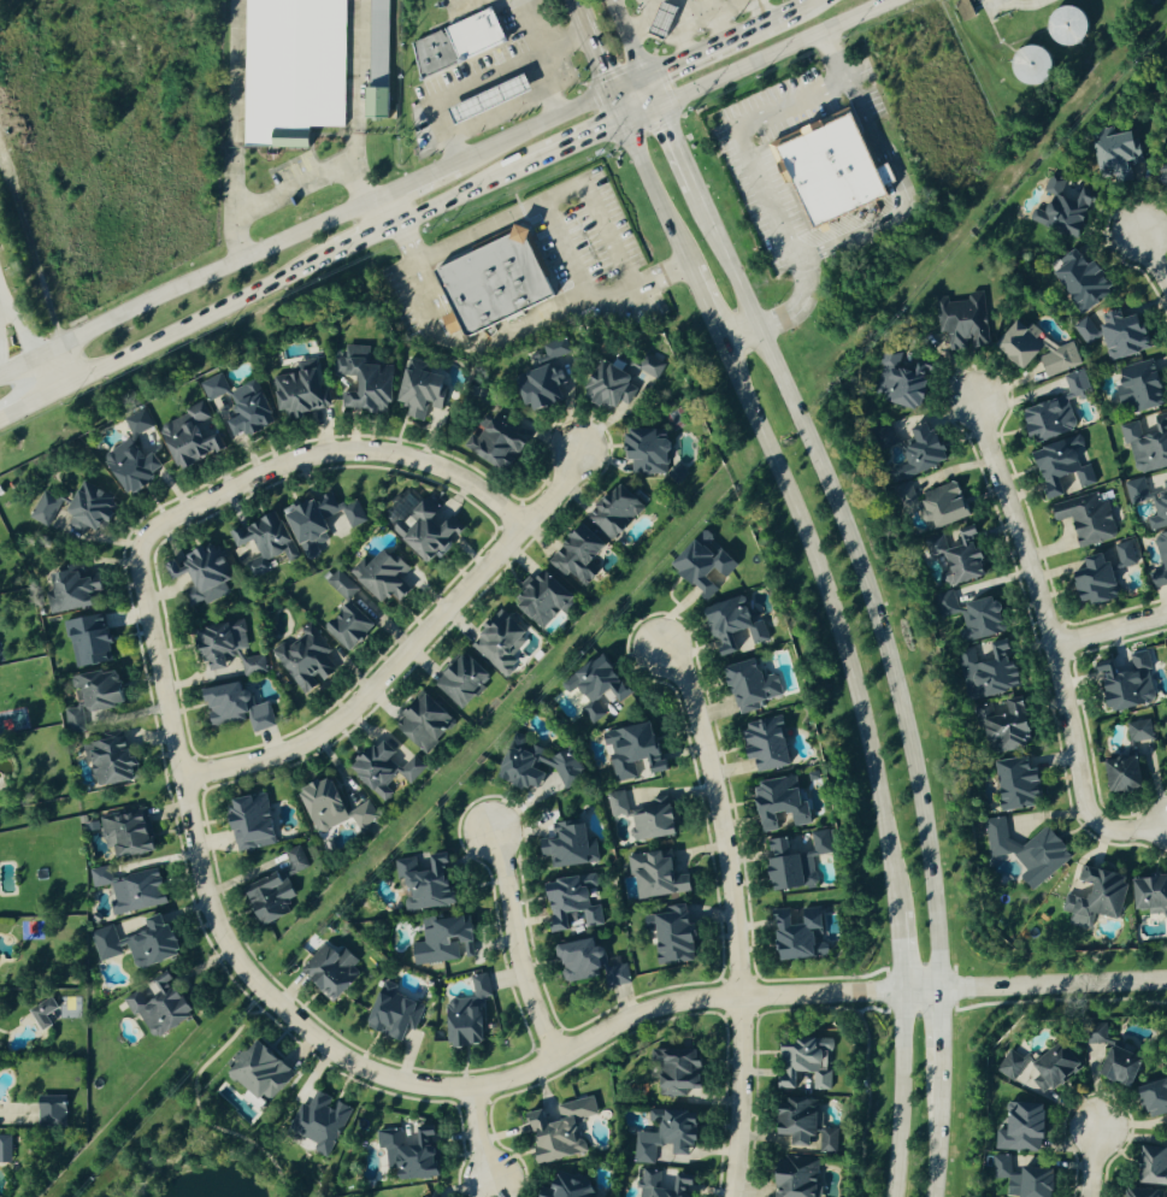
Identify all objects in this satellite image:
road: (454, 1)
road: (1020, 5)
road: (577, 7)
building: (968, 10)
road: (778, 17)
building: (662, 20)
road: (541, 25)
building: (1072, 26)
building: (464, 42)
road: (637, 52)
road: (595, 54)
road: (695, 55)
road: (754, 60)
building: (382, 61)
building: (293, 70)
traffic signals: (648, 77)
road: (488, 82)
road: (349, 85)
road: (549, 87)
traffic signals: (612, 93)
building: (489, 99)
traffic signals: (660, 105)
road: (230, 106)
road: (550, 120)
traffic signals: (624, 122)
road: (573, 143)
road: (678, 147)
building: (1110, 155)
road: (753, 164)
building: (831, 170)
building: (1161, 175)
road: (418, 181)
road: (649, 181)
road: (285, 185)
road: (554, 193)
building: (1059, 207)
road: (389, 208)
road: (1151, 261)
building: (1075, 281)
building: (494, 282)
road: (190, 287)
road: (260, 287)
road: (702, 306)
road: (16, 309)
building: (957, 324)
building: (1084, 331)
building: (1118, 334)
road: (738, 336)
building: (1014, 344)
building: (559, 348)
building: (1057, 360)
building: (648, 366)
road: (40, 376)
building: (896, 381)
building: (370, 382)
building: (1073, 384)
building: (608, 385)
building: (217, 387)
building: (1136, 387)
building: (536, 388)
building: (428, 390)
building: (306, 394)
building: (253, 408)
building: (1043, 419)
building: (141, 423)
building: (196, 437)
building: (490, 443)
building: (1145, 444)
building: (641, 452)
road: (324, 453)
building: (918, 453)
building: (137, 467)
building: (1059, 467)
building: (1134, 491)
building: (904, 500)
building: (939, 505)
building: (1159, 507)
building: (48, 508)
building: (99, 509)
building: (611, 511)
building: (1083, 518)
building: (326, 520)
building: (419, 525)
building: (271, 538)
building: (574, 554)
building: (954, 555)
building: (1122, 555)
building: (1159, 561)
building: (701, 566)
building: (208, 574)
building: (379, 576)
road: (862, 578)
building: (1090, 582)
building: (341, 586)
building: (79, 592)
building: (537, 600)
building: (943, 606)
building: (978, 618)
road: (833, 619)
building: (344, 626)
building: (731, 627)
road: (1112, 631)
building: (94, 641)
building: (496, 643)
road: (1055, 644)
building: (1166, 647)
building: (225, 650)
road: (408, 651)
building: (305, 660)
building: (984, 670)
building: (456, 680)
building: (1121, 683)
building: (591, 686)
building: (747, 686)
building: (108, 689)
building: (219, 703)
building: (258, 717)
building: (77, 718)
building: (420, 723)
building: (1000, 725)
building: (1137, 731)
building: (762, 744)
building: (629, 751)
building: (116, 760)
building: (1165, 760)
building: (529, 766)
building: (382, 767)
building: (1118, 774)
building: (1013, 784)
building: (776, 803)
building: (320, 804)
building: (363, 815)
building: (638, 818)
building: (247, 824)
building: (131, 832)
building: (562, 847)
building: (1018, 853)
building: (295, 860)
building: (790, 862)
building: (104, 875)
building: (652, 875)
building: (420, 881)
building: (141, 891)
building: (1145, 894)
building: (267, 898)
building: (1090, 900)
building: (565, 906)
road: (731, 915)
building: (794, 934)
building: (668, 936)
building: (438, 940)
building: (108, 943)
building: (159, 943)
road: (518, 948)
road: (896, 954)
building: (576, 960)
building: (328, 972)
building: (166, 1006)
building: (43, 1013)
building: (465, 1015)
building: (390, 1016)
road: (938, 1030)
building: (1108, 1057)
building: (798, 1065)
building: (1008, 1066)
building: (1051, 1069)
building: (672, 1071)
building: (255, 1073)
road: (478, 1086)
road: (896, 1095)
building: (52, 1109)
building: (319, 1124)
building: (798, 1125)
building: (1016, 1127)
building: (555, 1131)
road: (938, 1133)
building: (662, 1136)
road: (476, 1137)
building: (6, 1149)
building: (406, 1151)
park: (190, 1156)
building: (1150, 1164)
road: (1092, 1166)
building: (1000, 1167)
building: (791, 1177)
building: (1029, 1183)
building: (660, 1185)
building: (566, 1186)
building: (1136, 1193)
building: (429, 1196)

